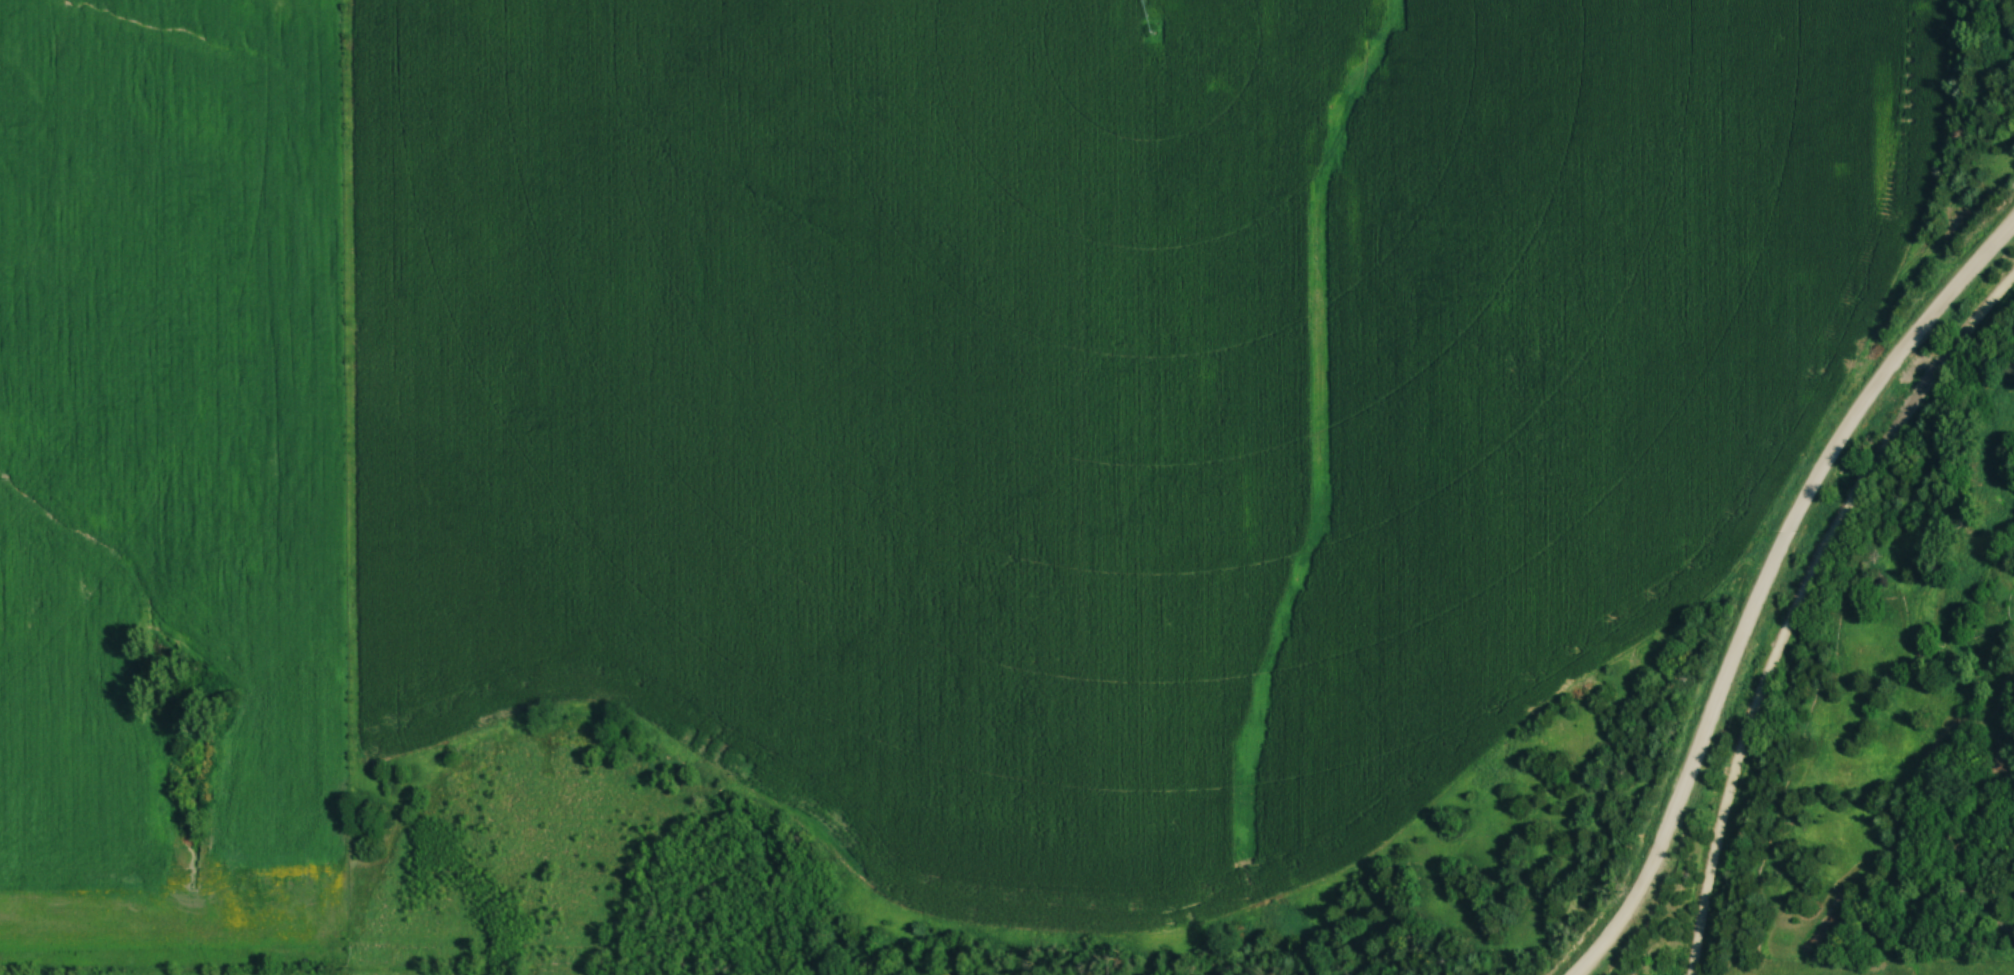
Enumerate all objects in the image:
road: (1763, 580)
road: (1797, 597)

